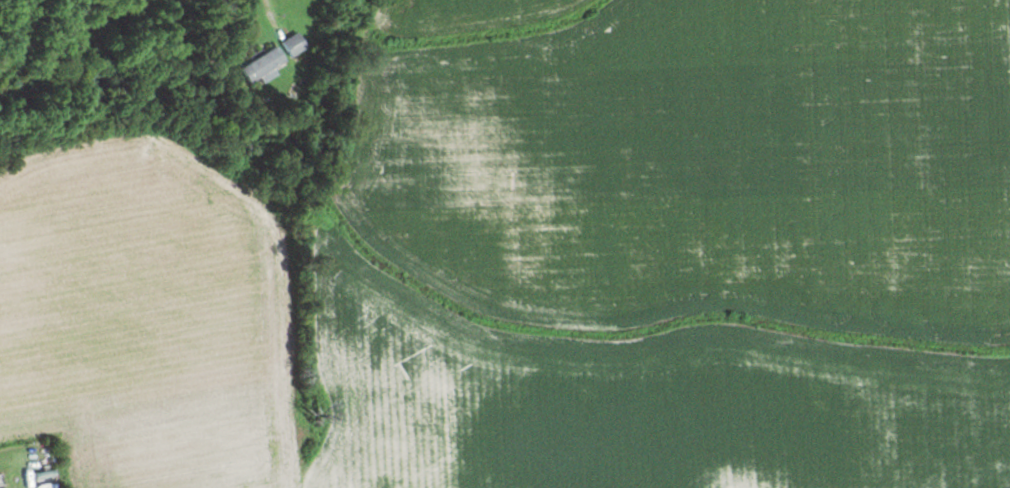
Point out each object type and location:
road: (326, 26)
building: (294, 44)
building: (263, 65)

